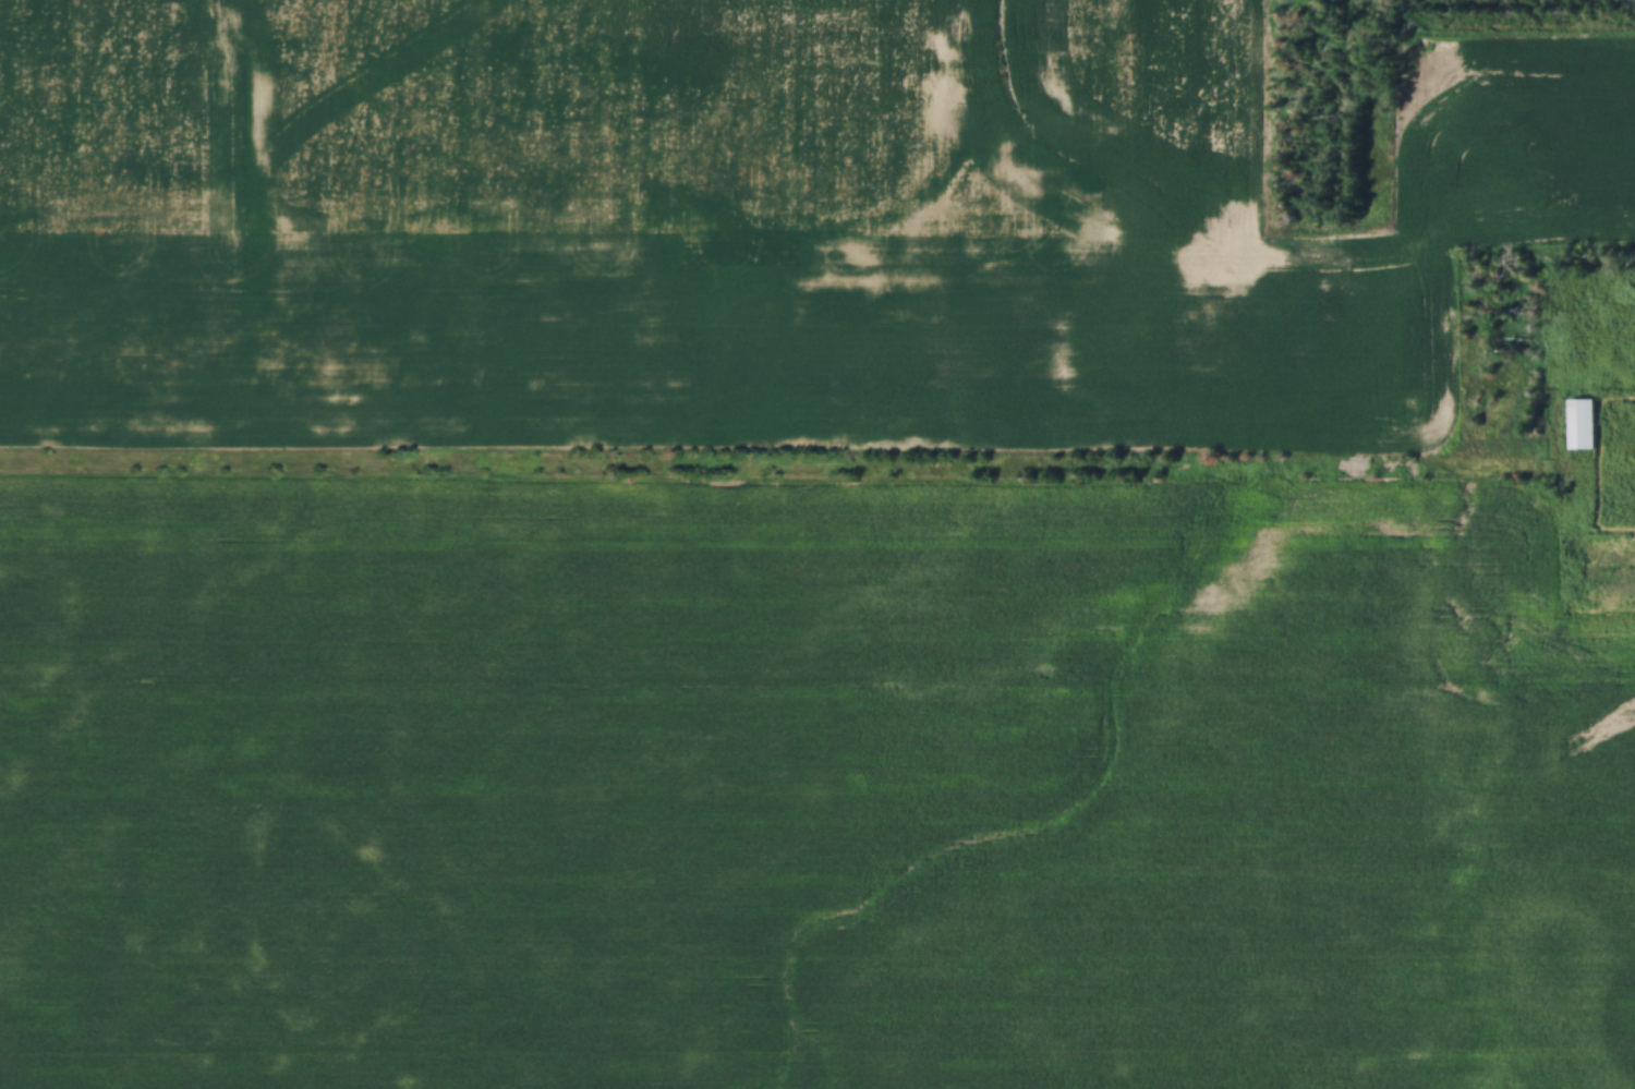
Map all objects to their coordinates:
building: (1581, 423)

